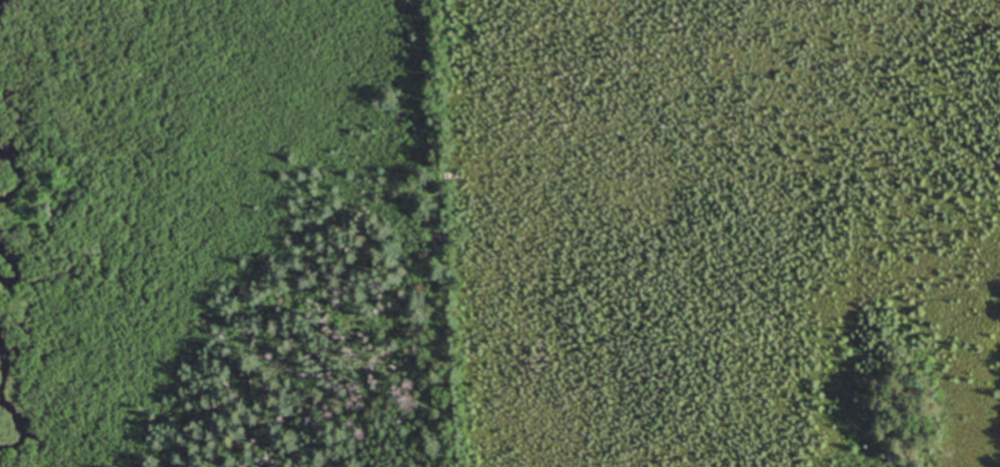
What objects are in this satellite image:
river: (24, 178)
road: (444, 233)
river: (18, 269)
river: (14, 404)

